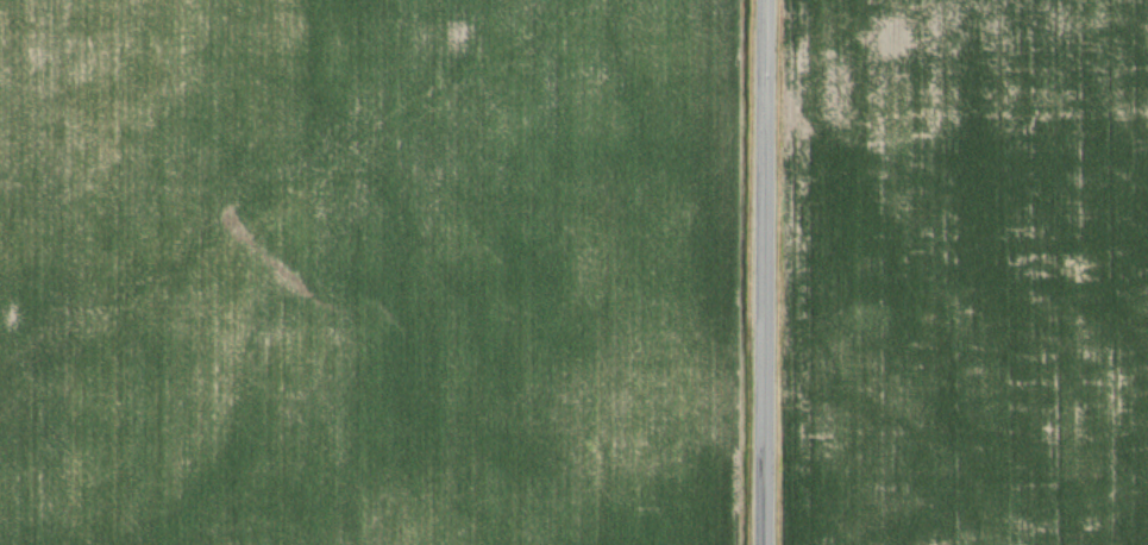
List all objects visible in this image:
road: (761, 272)

